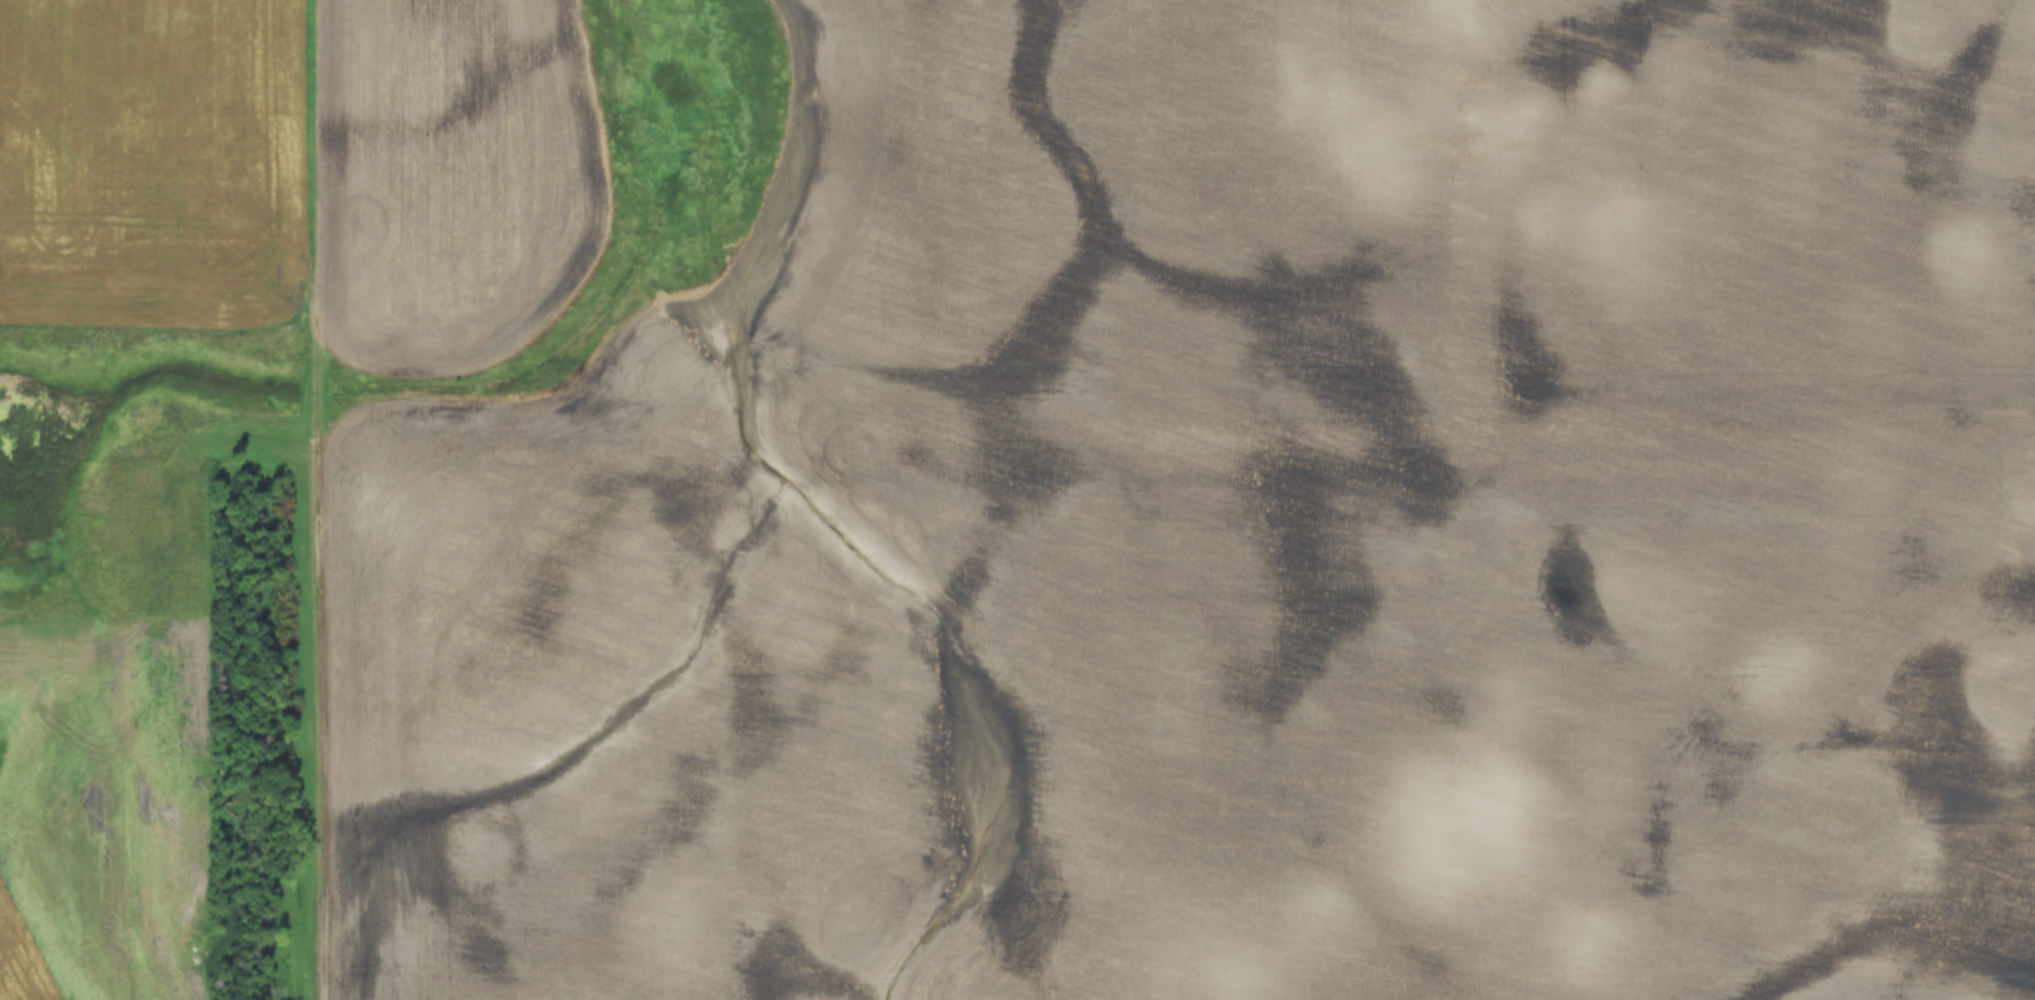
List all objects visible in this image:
road: (313, 184)
road: (160, 352)
road: (321, 683)

